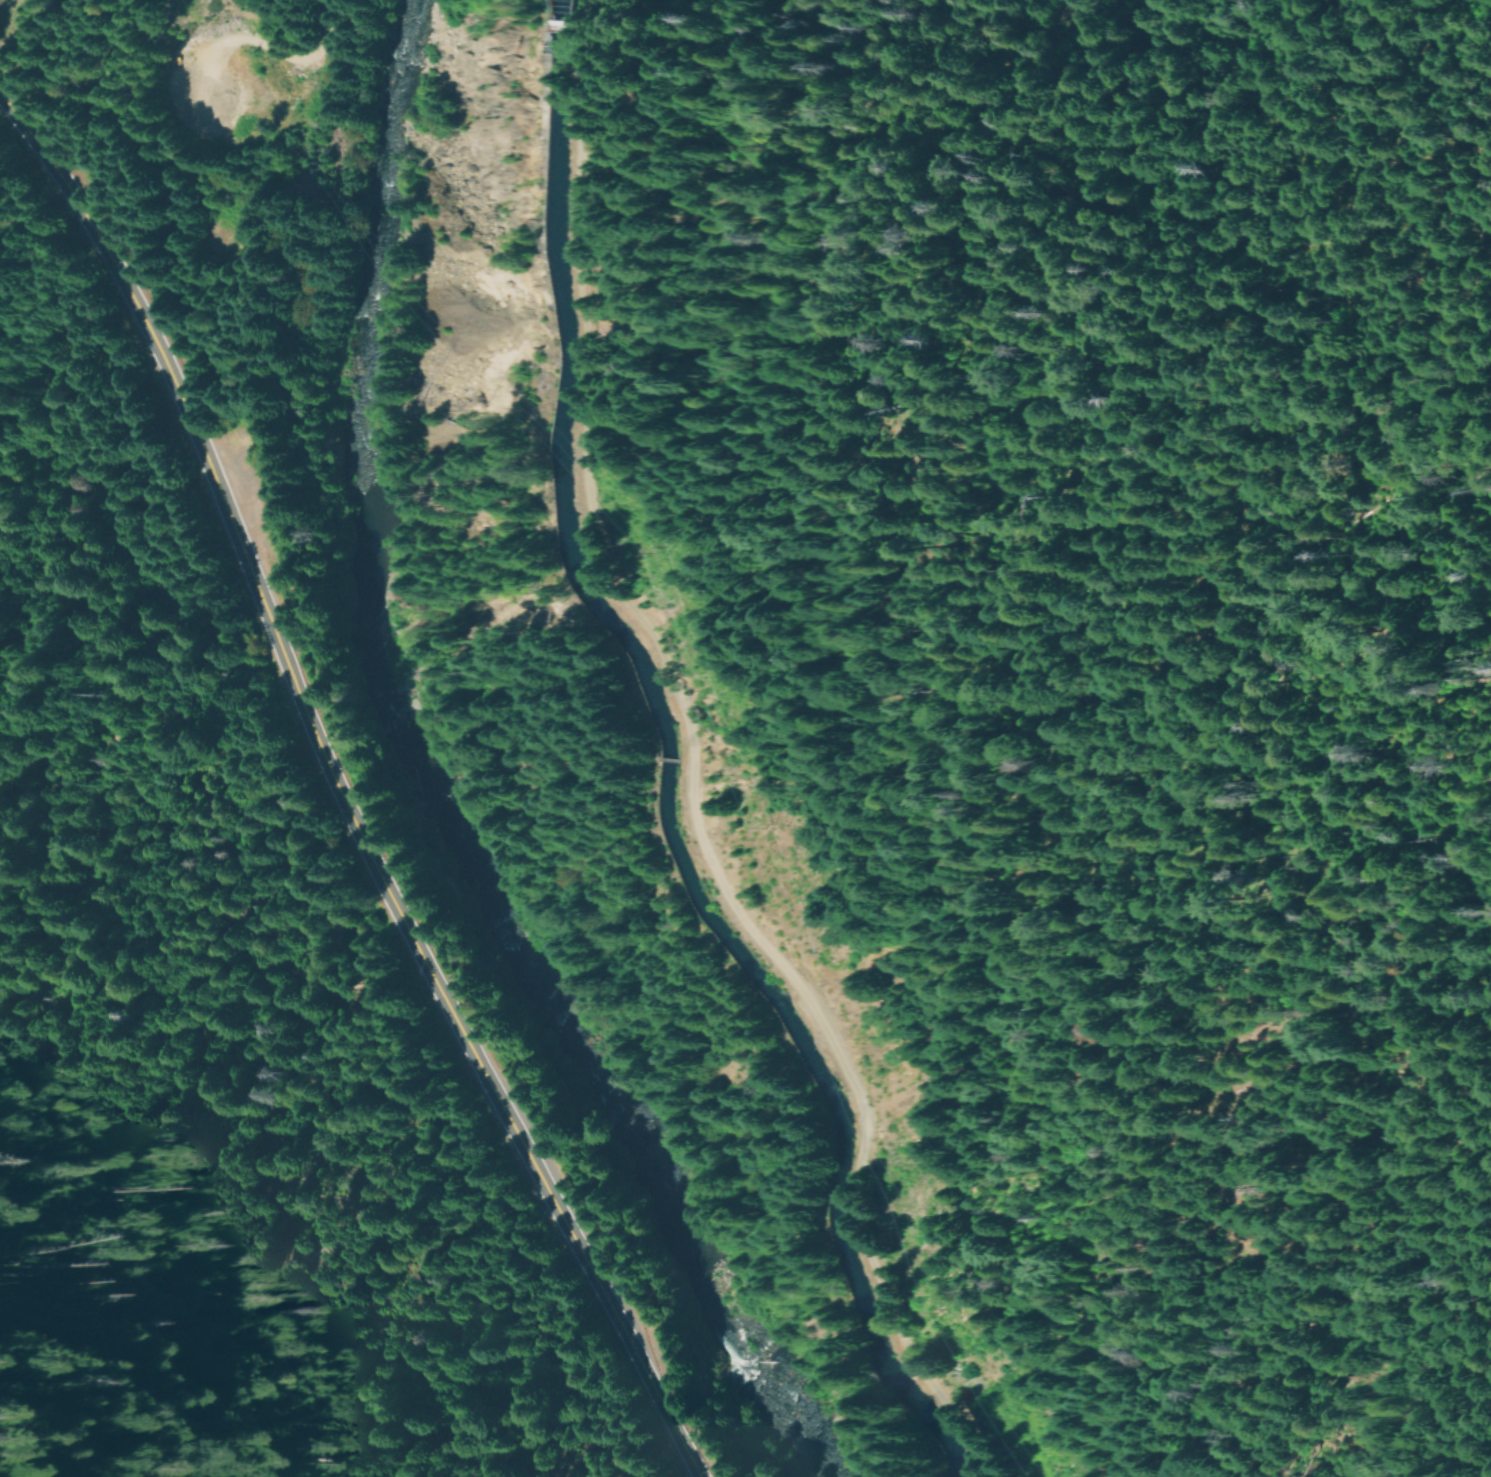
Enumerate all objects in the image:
road: (319, 46)
power tower: (663, 547)
road: (1086, 588)
road: (690, 765)
river: (421, 789)
road: (339, 794)

